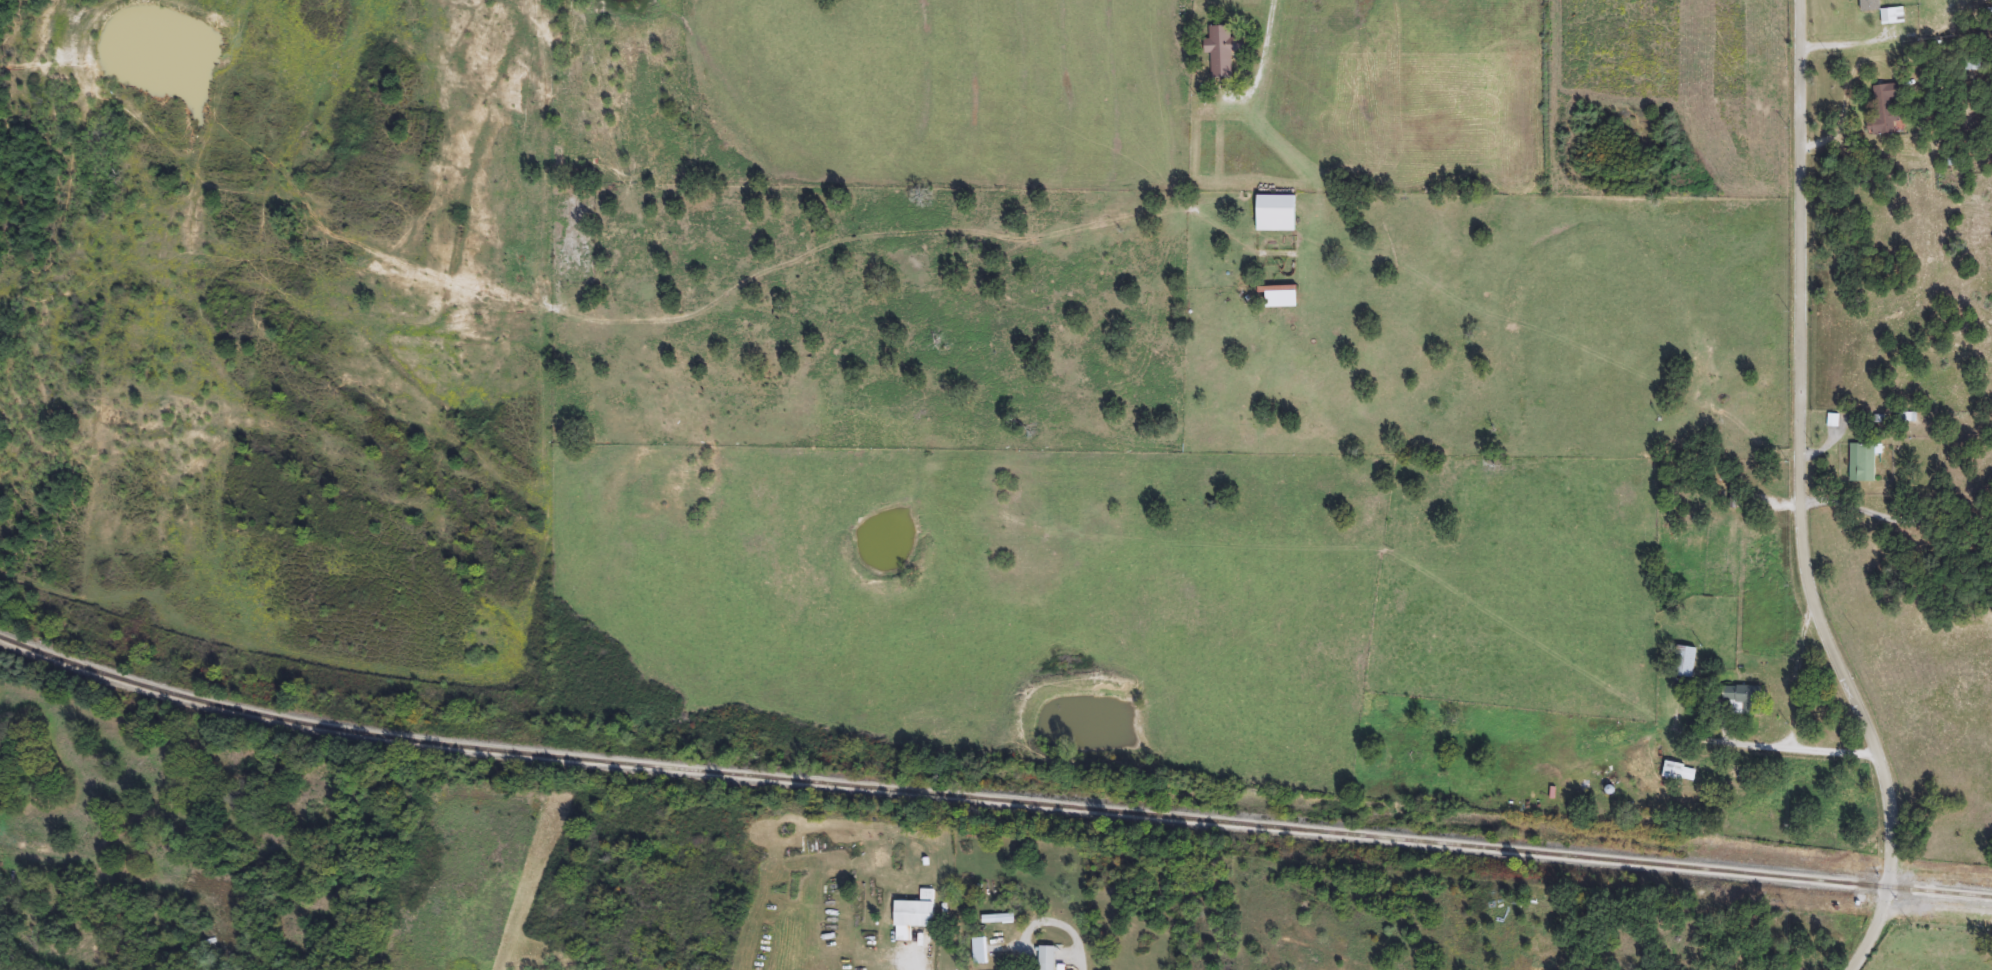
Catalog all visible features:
building: (1872, 5)
road: (1260, 48)
building: (1223, 51)
building: (1889, 110)
building: (1279, 214)
building: (1285, 299)
building: (1865, 463)
building: (1742, 484)
road: (1802, 497)
road: (1895, 528)
building: (1685, 662)
road: (1799, 668)
building: (1745, 699)
road: (1803, 749)
building: (1682, 772)
railway: (990, 801)
building: (915, 916)
building: (980, 951)
building: (1047, 958)
road: (1077, 961)

